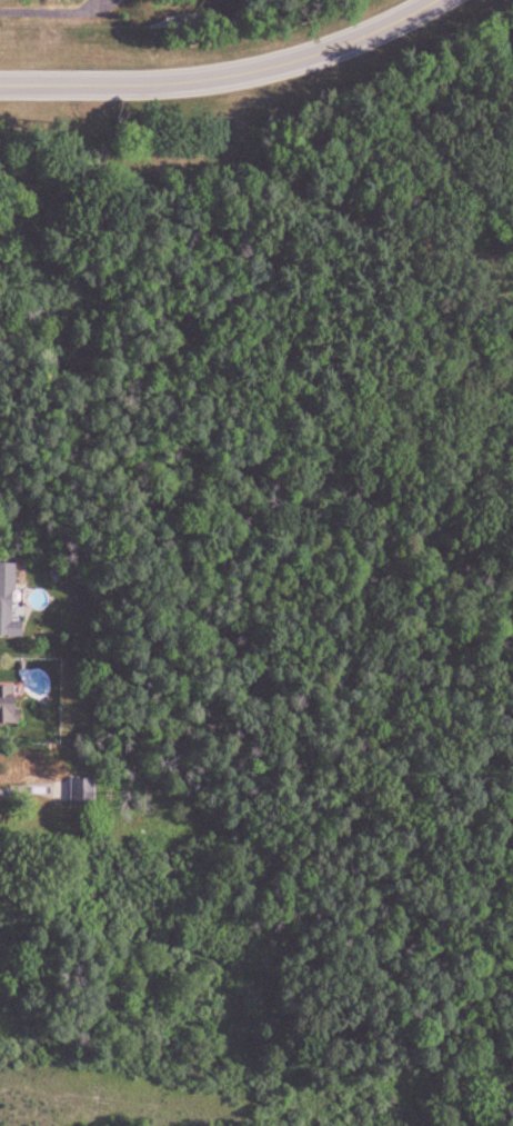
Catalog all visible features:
road: (51, 12)
road: (224, 74)
road: (247, 279)
building: (7, 601)
building: (4, 705)
road: (376, 1045)

